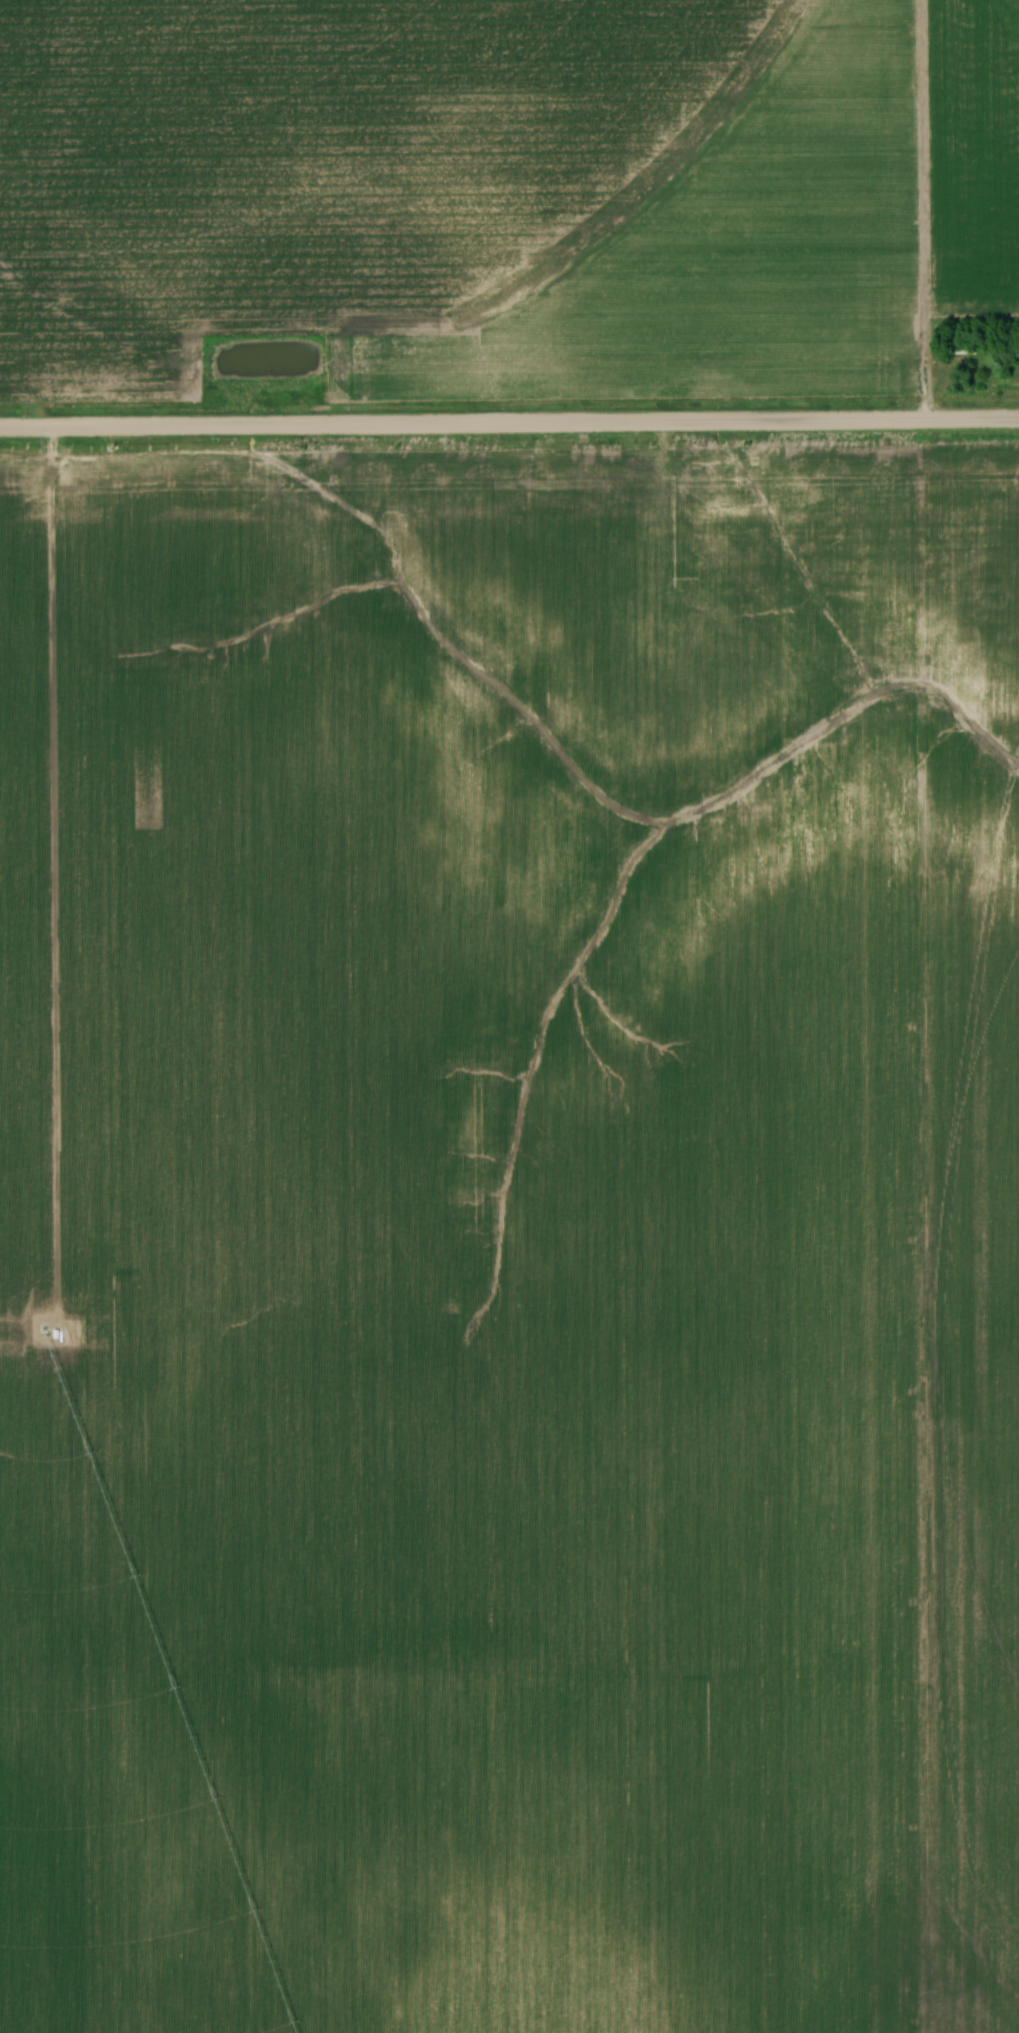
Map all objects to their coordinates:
road: (509, 431)

